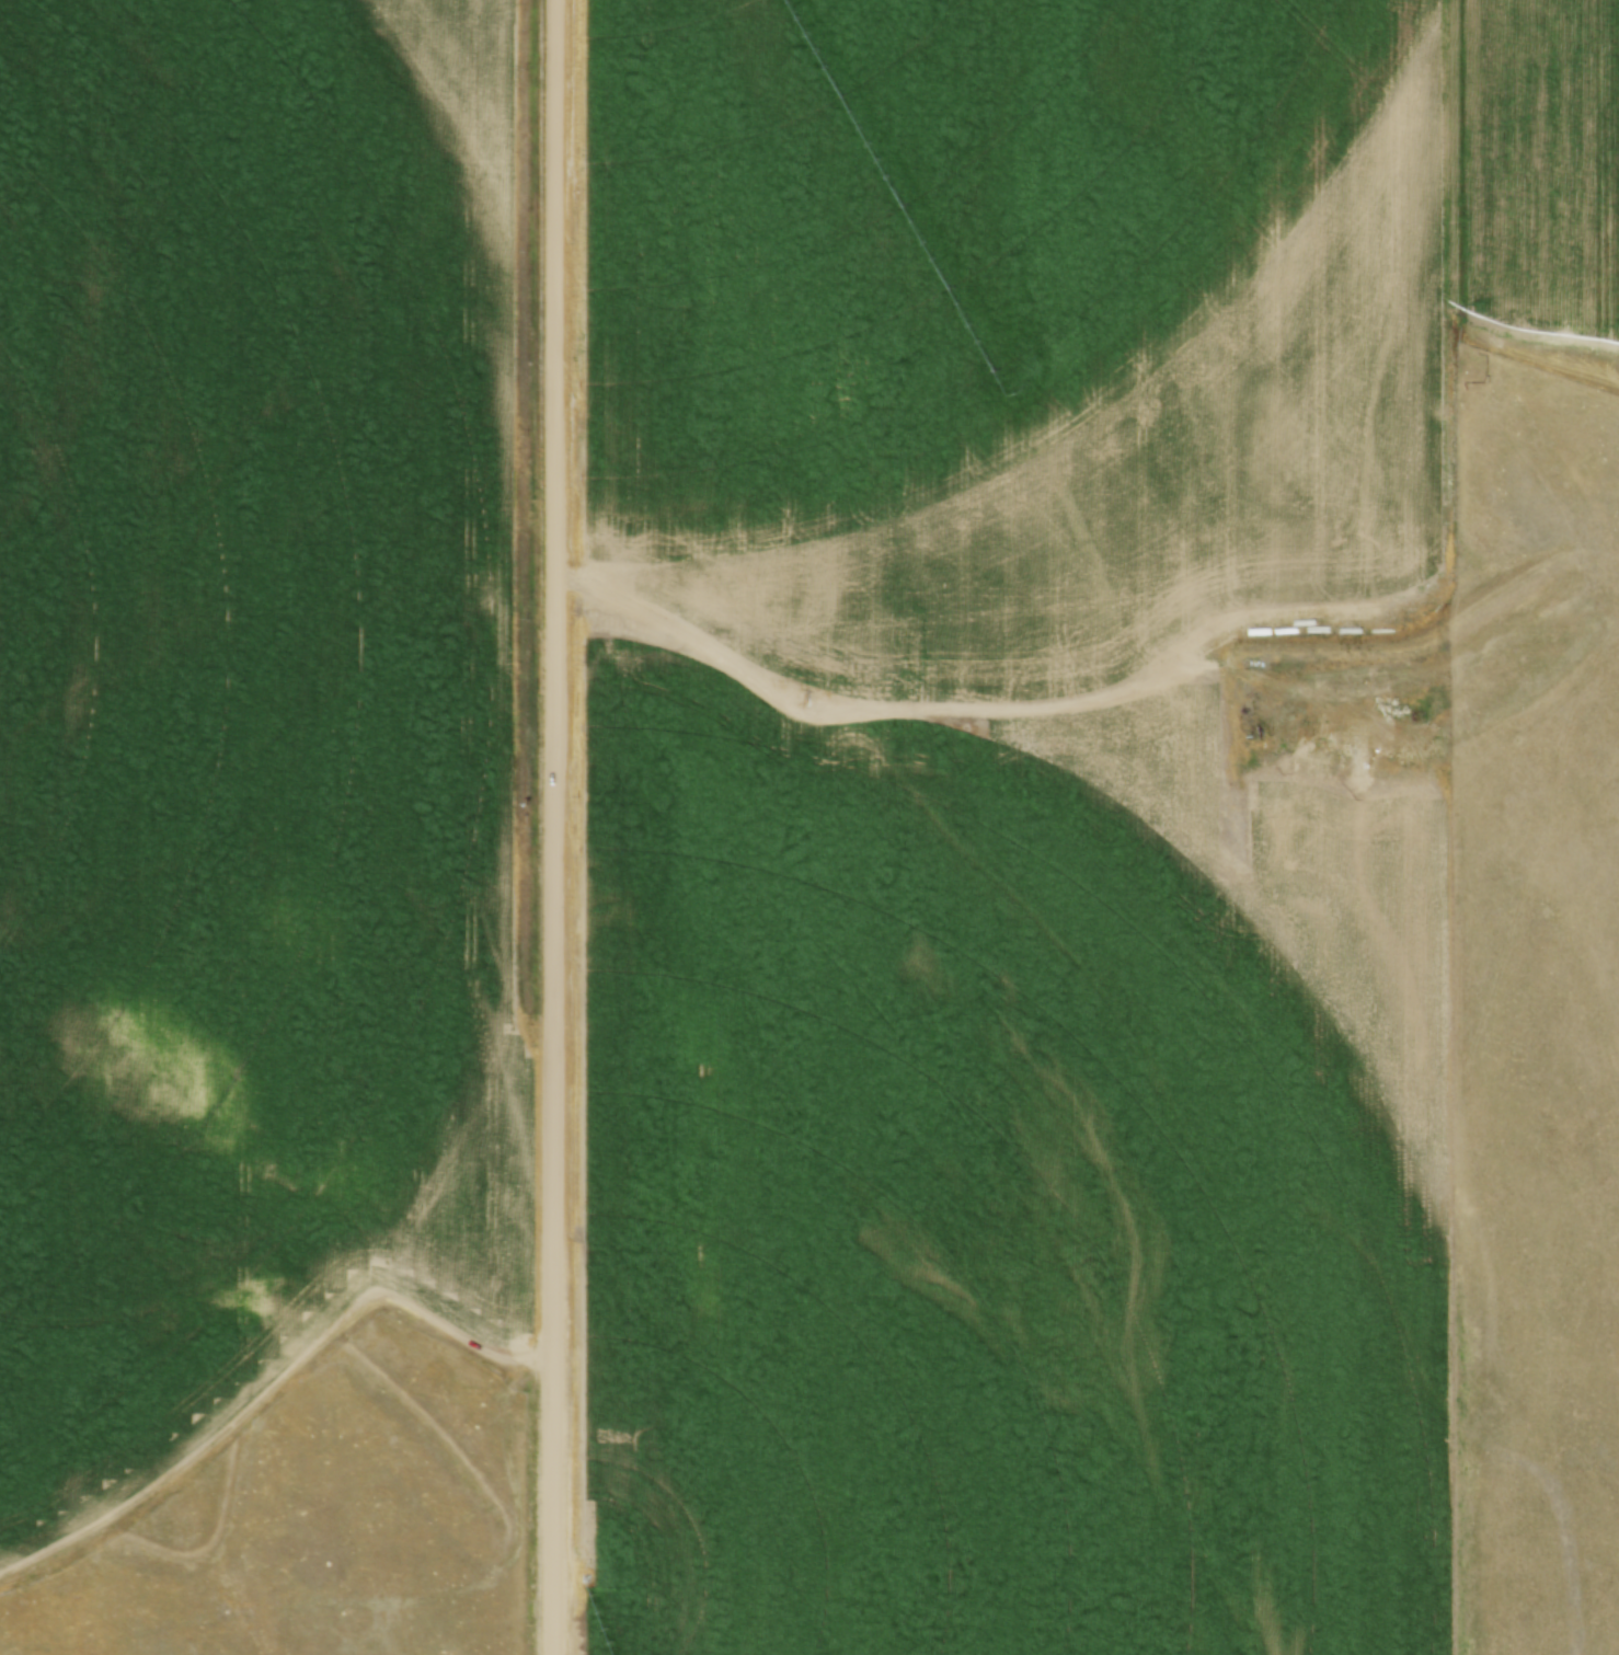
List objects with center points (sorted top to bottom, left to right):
crop: (1055, 308)
crop: (253, 709)
road: (551, 827)
crop: (1007, 1184)

